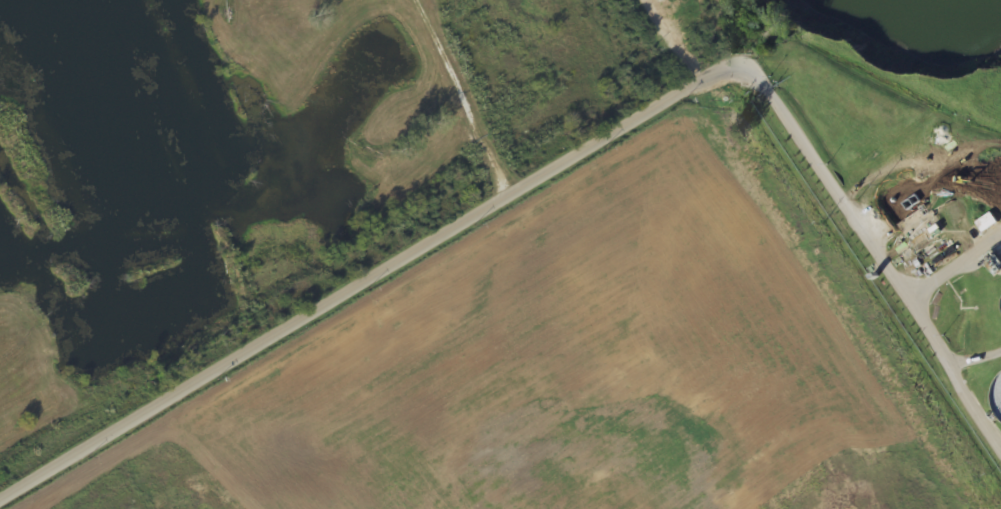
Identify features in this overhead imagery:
road: (568, 164)
wastewater plant: (905, 208)
building: (986, 222)

